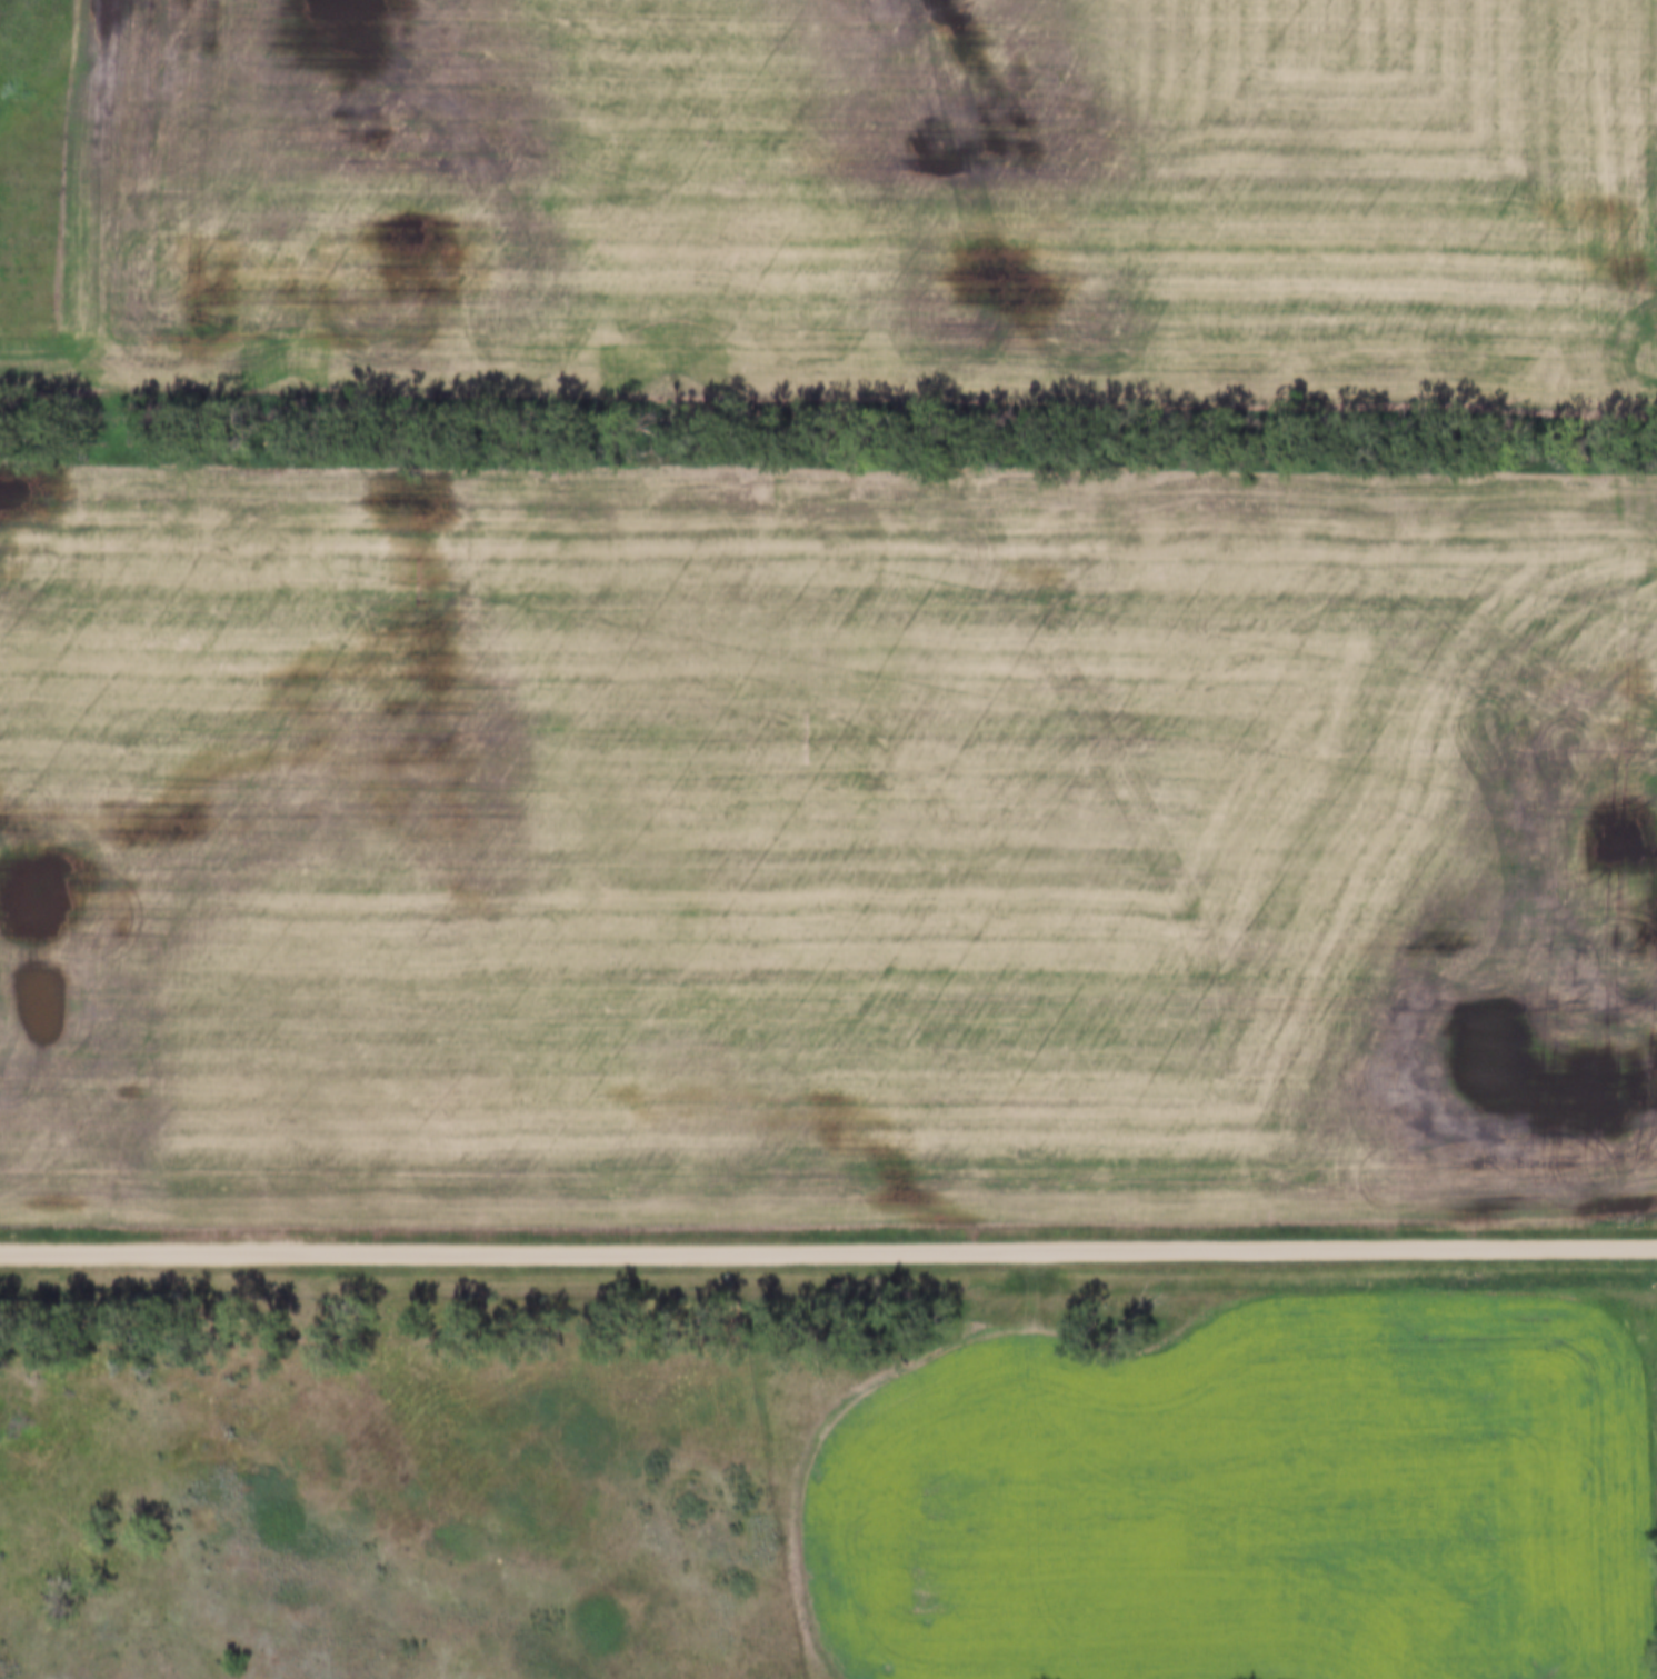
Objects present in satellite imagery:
road: (828, 1243)

